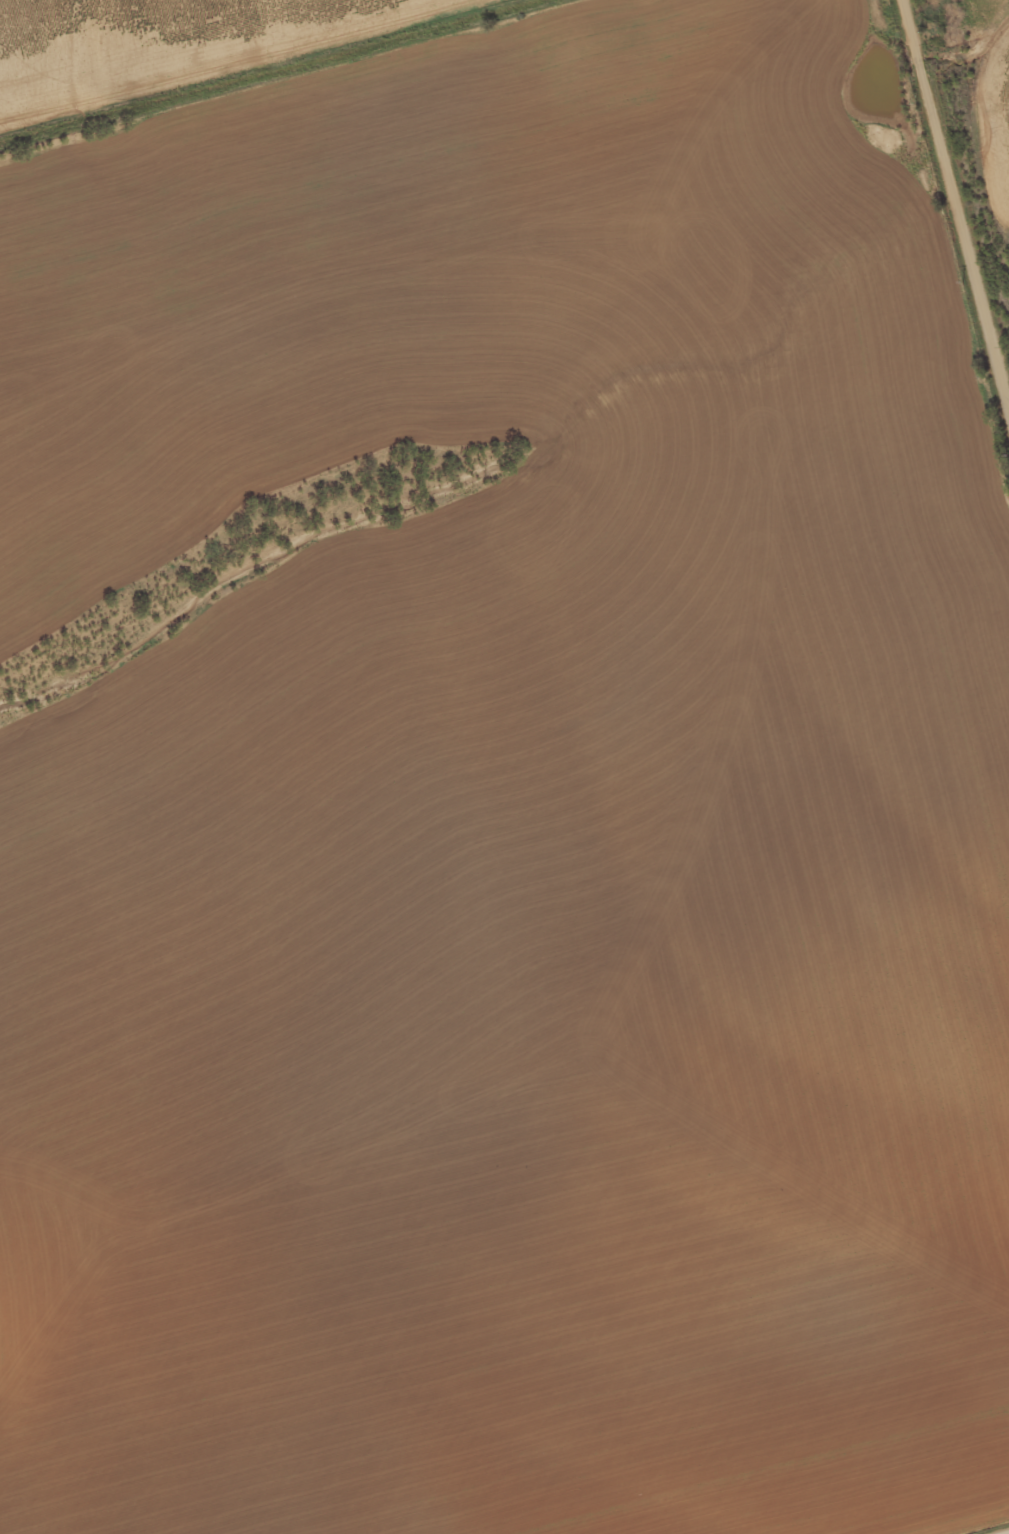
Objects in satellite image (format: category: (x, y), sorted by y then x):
road: (960, 185)

